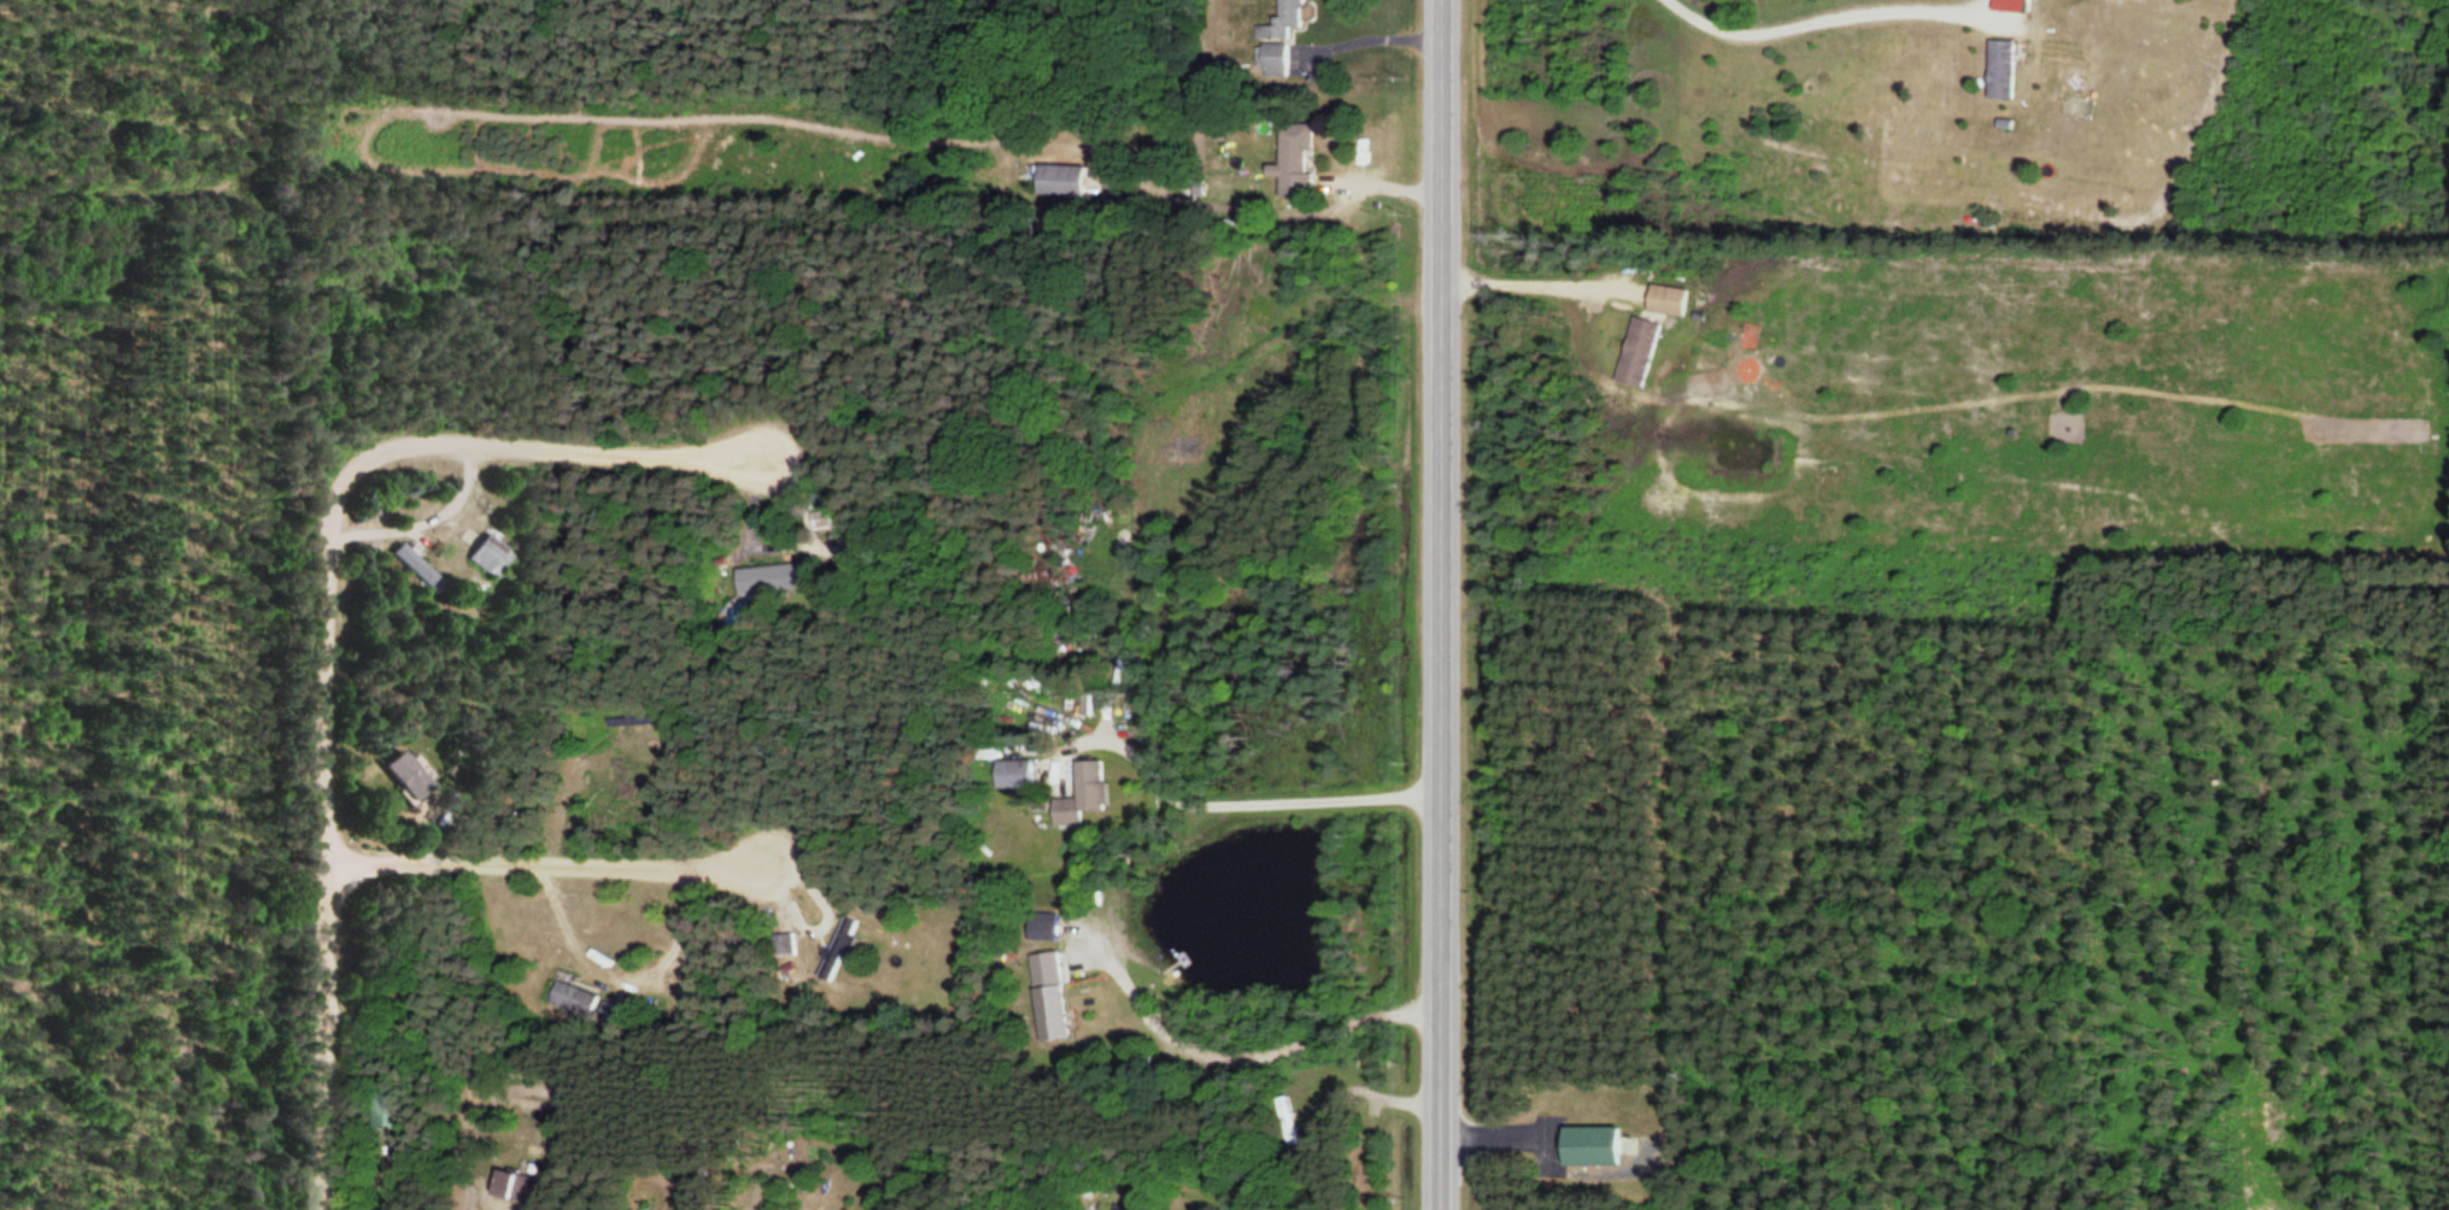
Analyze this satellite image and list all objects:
building: (1282, 20)
building: (1271, 60)
building: (1998, 70)
building: (1293, 163)
building: (1061, 182)
road: (1241, 211)
building: (1663, 300)
building: (1634, 352)
road: (541, 448)
road: (422, 524)
building: (484, 556)
building: (433, 577)
building: (773, 578)
road: (1440, 604)
building: (394, 775)
building: (1012, 775)
building: (1080, 794)
road: (324, 845)
road: (543, 868)
building: (783, 945)
building: (837, 948)
building: (566, 992)
building: (1049, 995)
building: (388, 1111)
building: (1287, 1120)
building: (1589, 1146)
building: (511, 1186)

